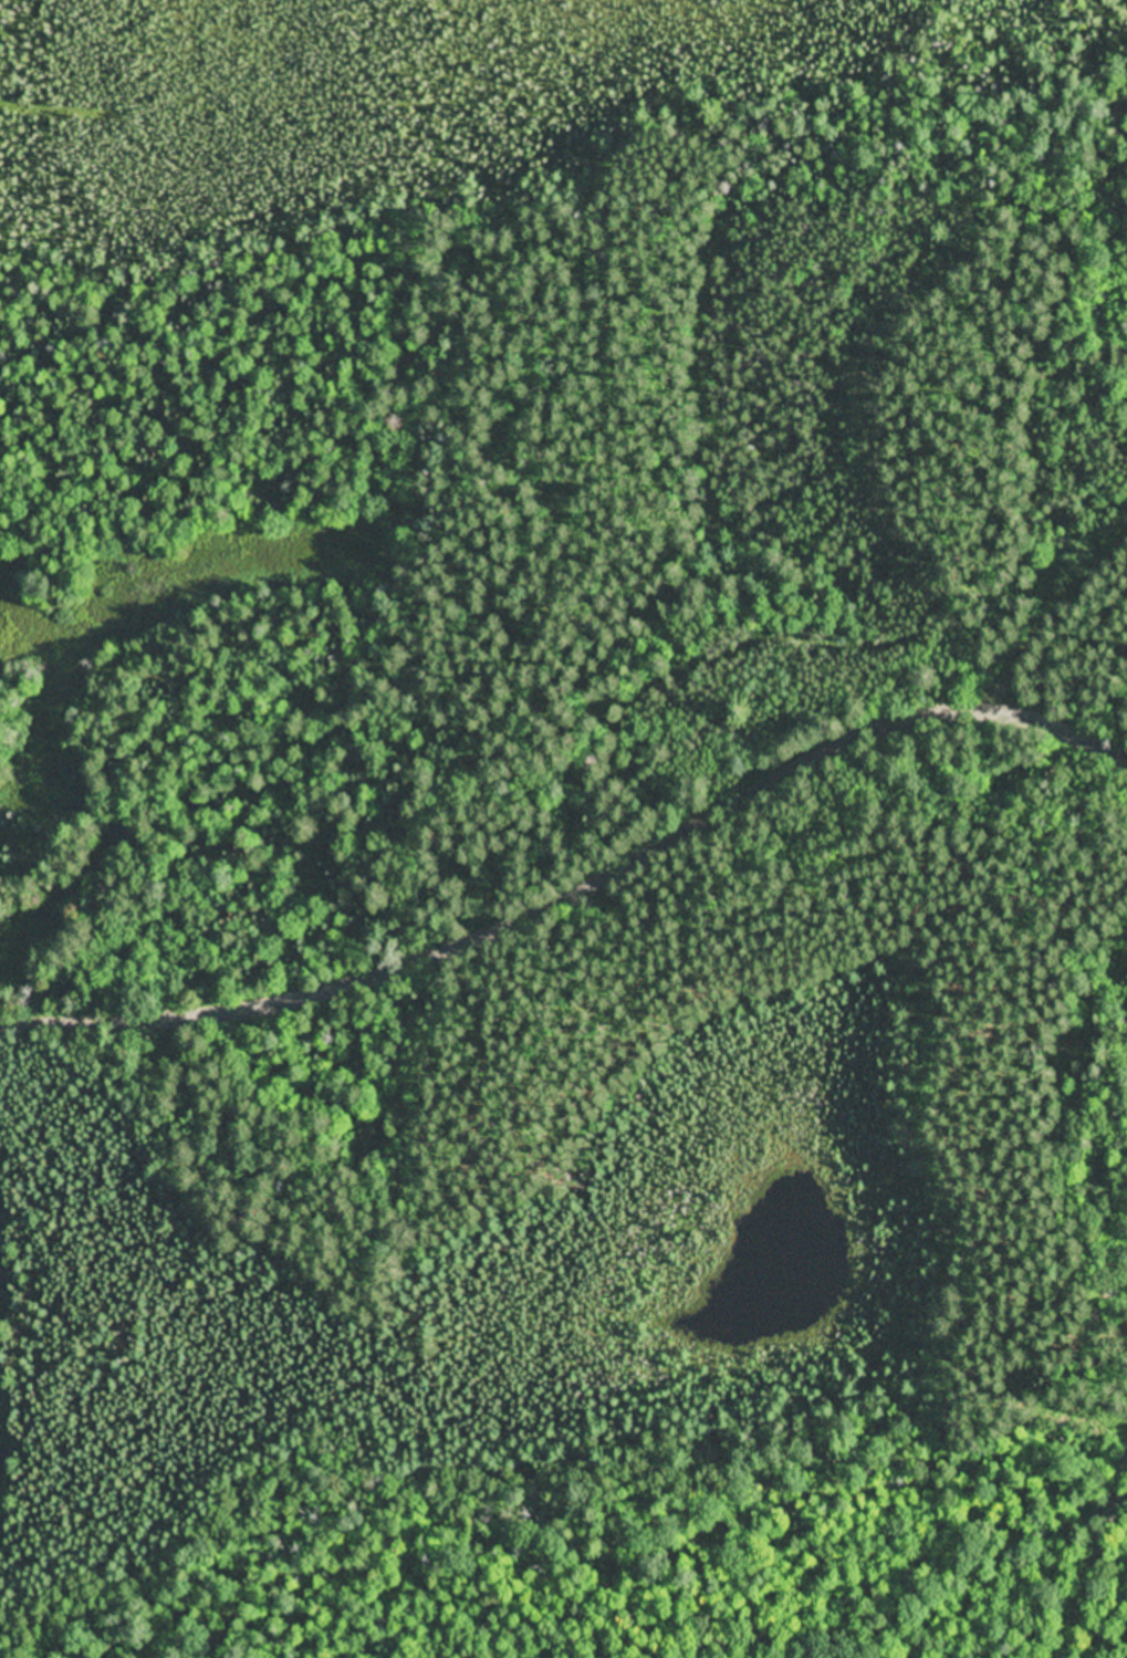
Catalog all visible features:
road: (583, 889)
road: (1096, 1567)

